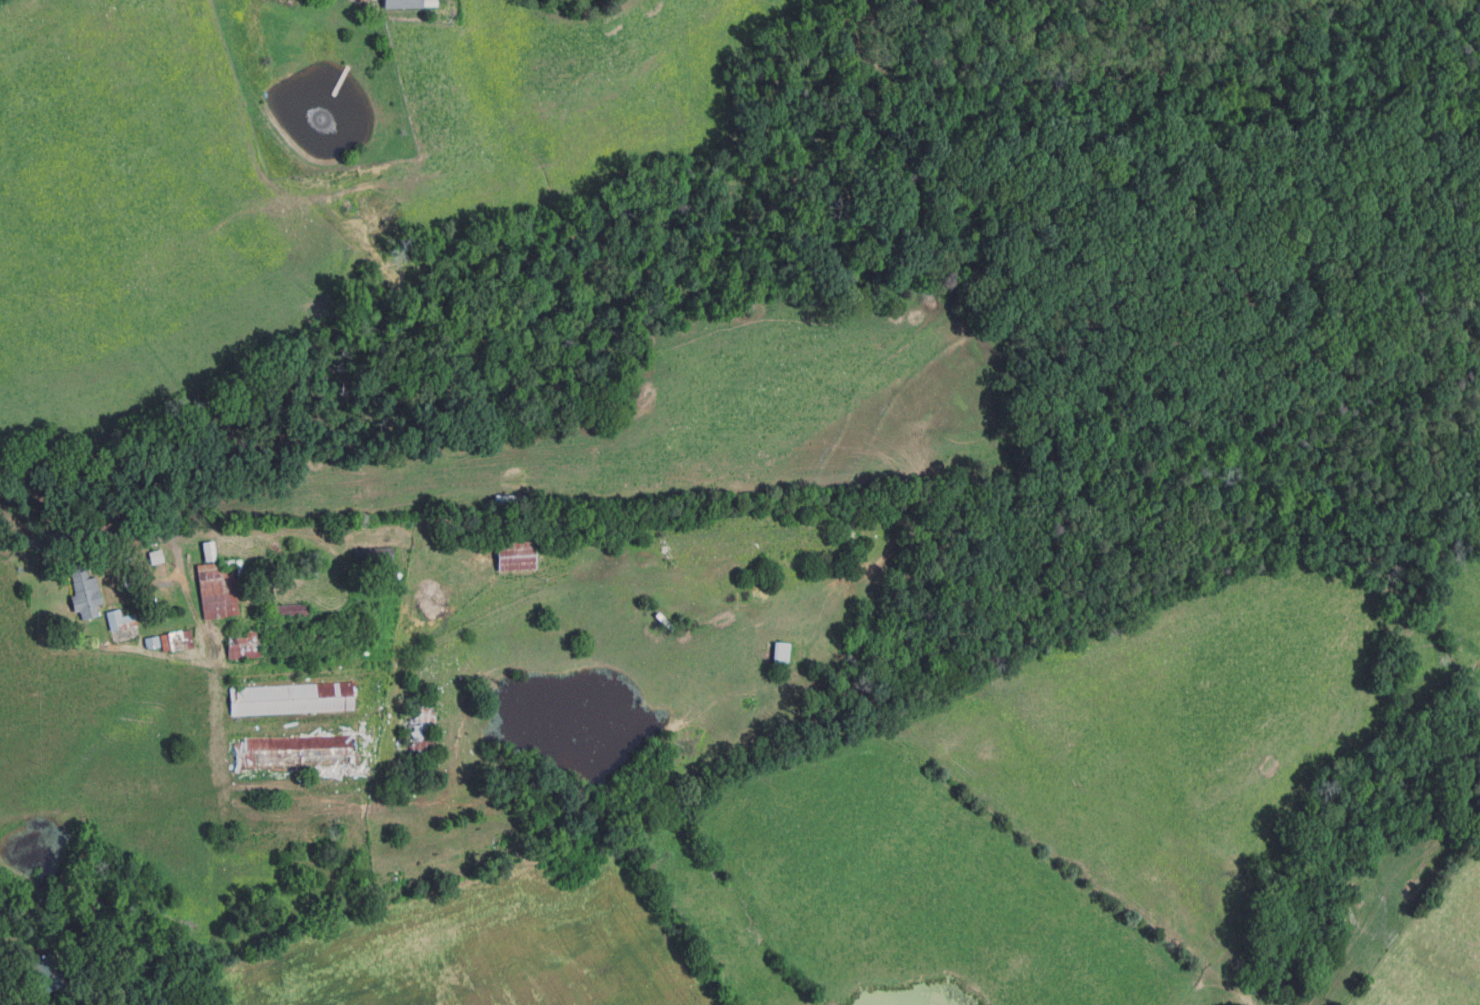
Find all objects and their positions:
building: (402, 4)
building: (159, 518)
road: (111, 533)
building: (208, 551)
building: (373, 553)
building: (514, 555)
building: (154, 557)
building: (226, 564)
building: (240, 568)
building: (214, 589)
building: (84, 591)
building: (287, 611)
building: (120, 619)
building: (175, 640)
building: (289, 641)
building: (151, 642)
building: (779, 651)
building: (291, 698)
building: (419, 725)
building: (293, 754)
crop: (484, 941)
road: (28, 969)
building: (45, 972)

